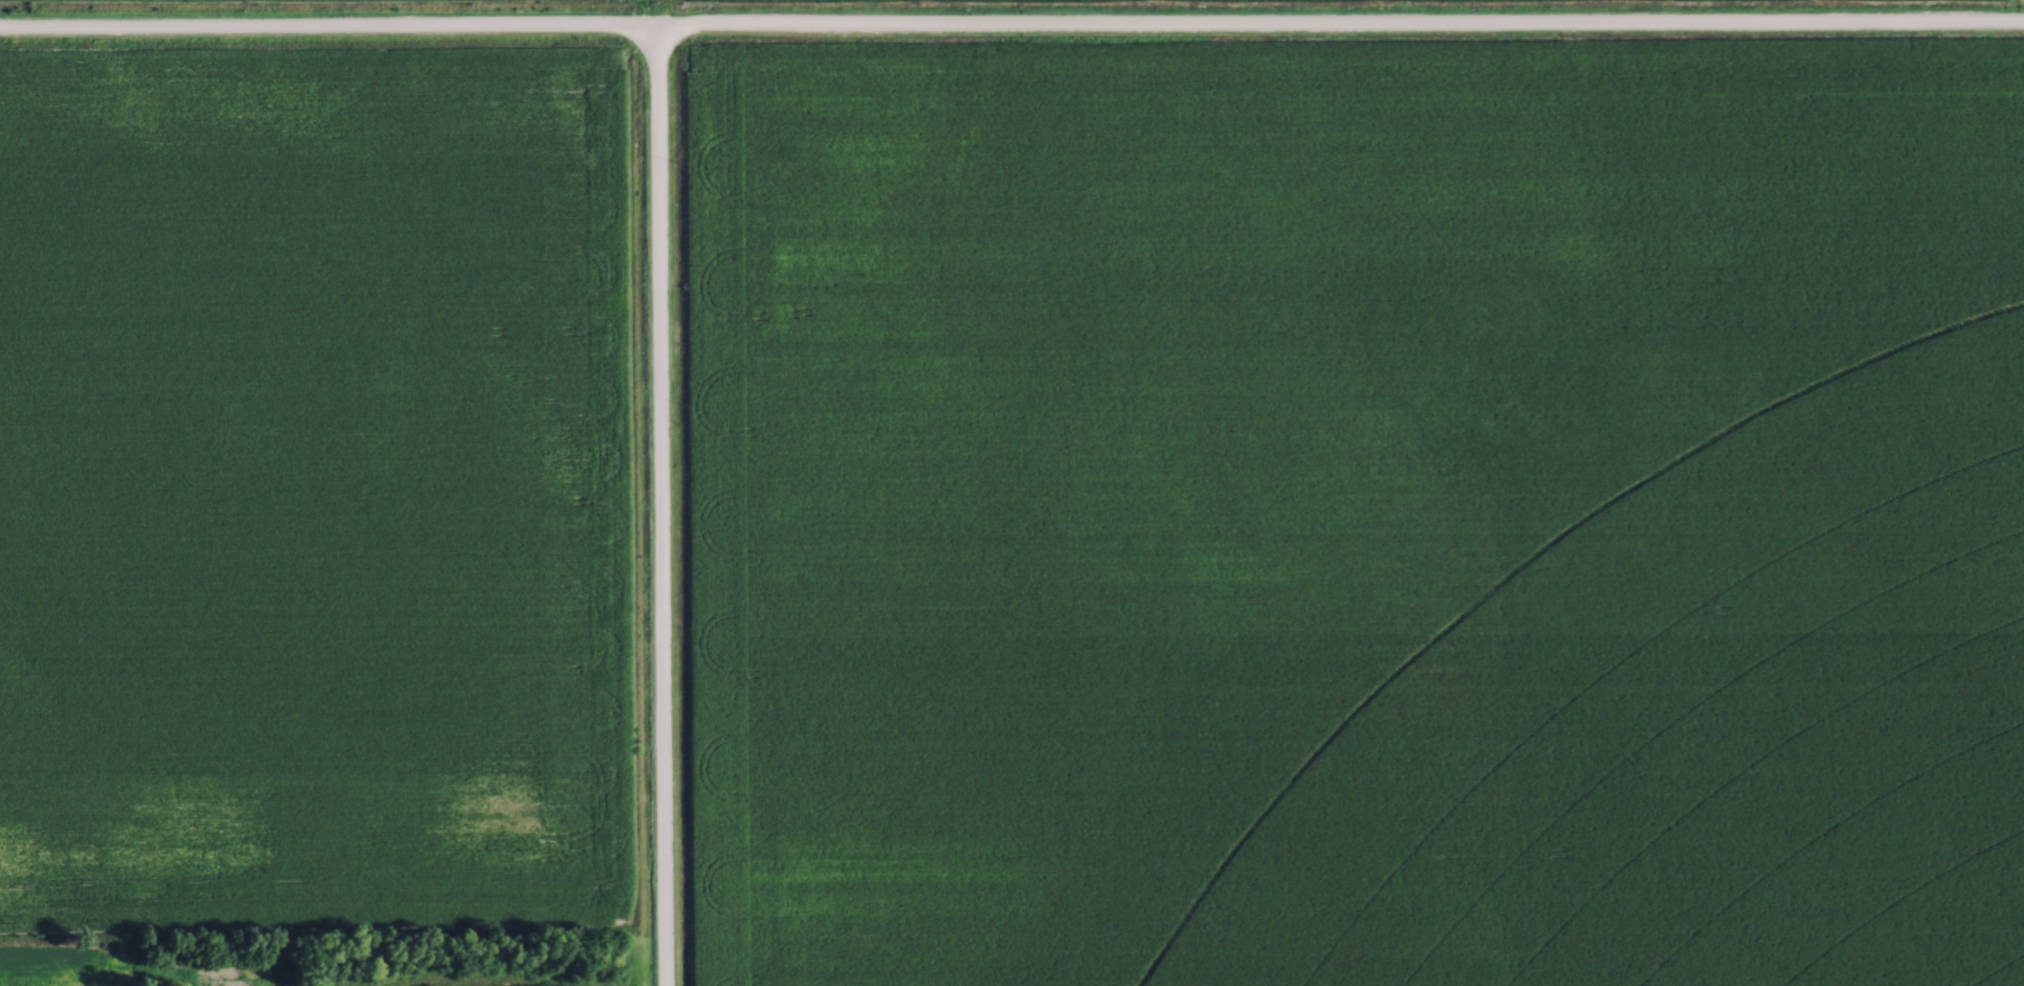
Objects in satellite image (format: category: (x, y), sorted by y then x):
road: (1011, 28)
road: (660, 506)

